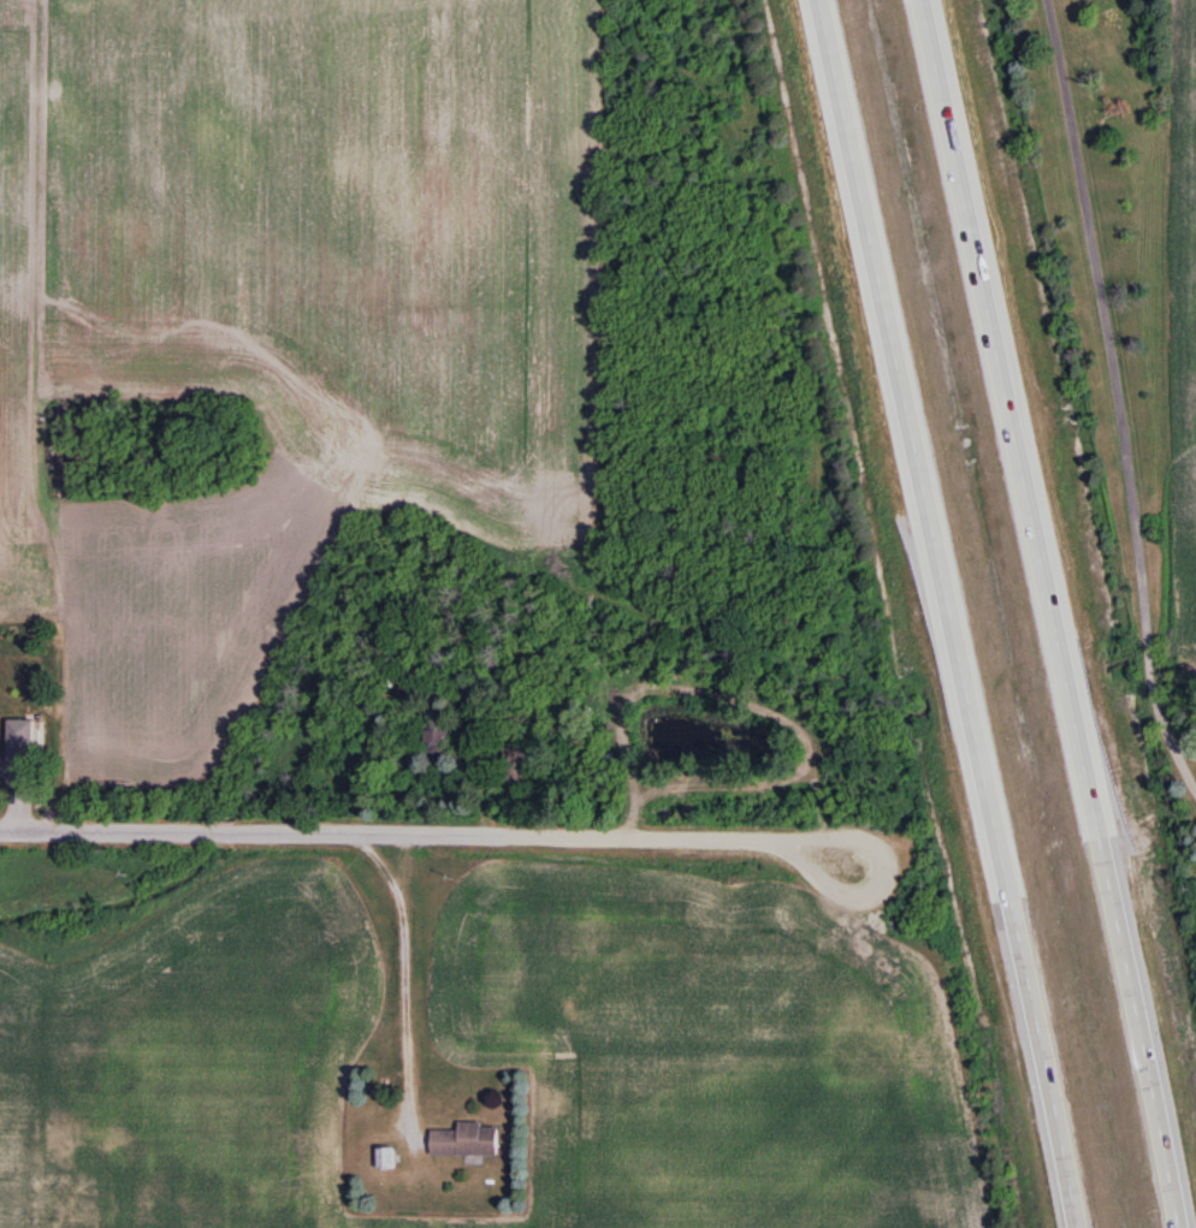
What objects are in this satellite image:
road: (1126, 393)
road: (948, 613)
road: (1050, 613)
building: (384, 675)
building: (437, 740)
building: (17, 741)
building: (517, 765)
road: (427, 830)
road: (404, 966)
building: (466, 1140)

